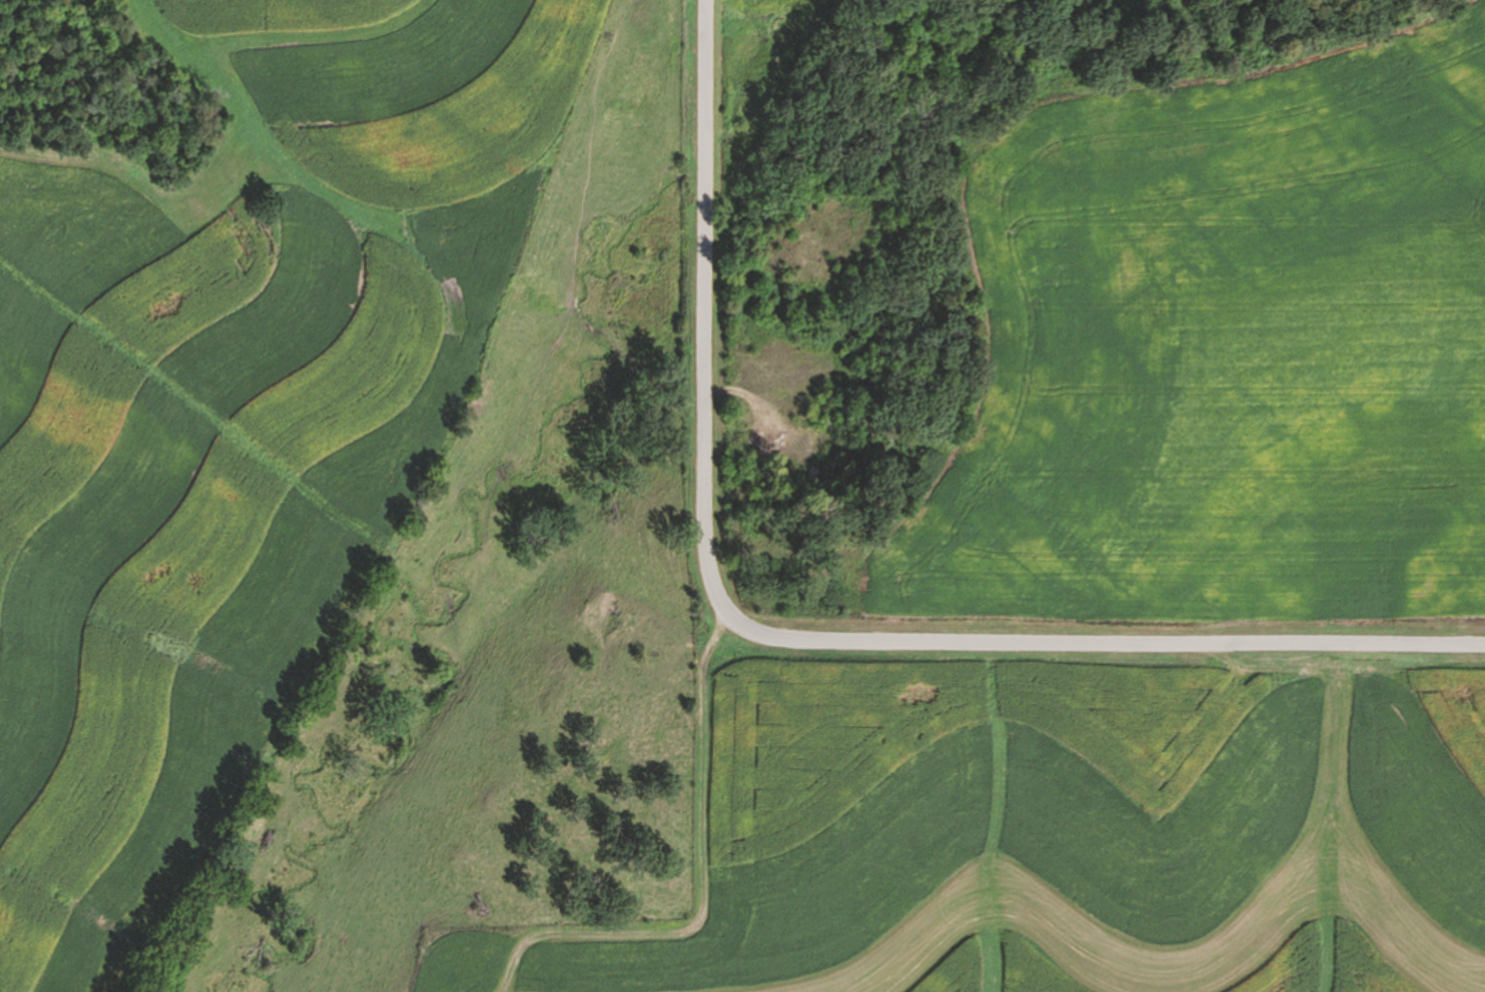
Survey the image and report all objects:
road: (795, 636)

